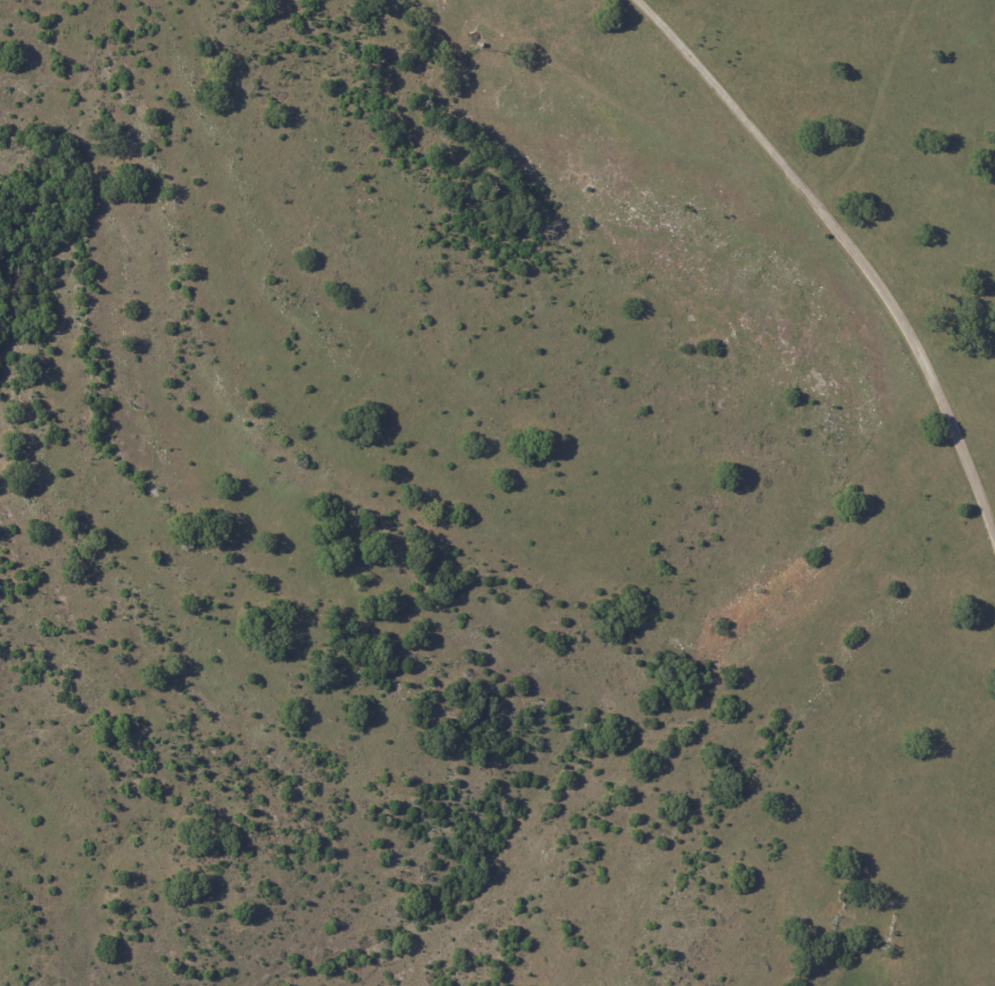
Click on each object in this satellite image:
road: (878, 238)

